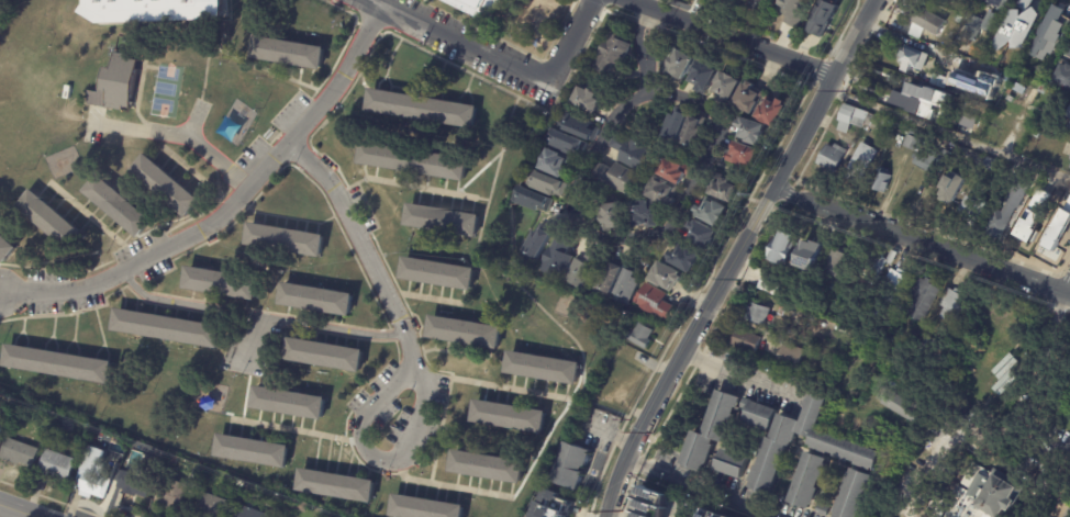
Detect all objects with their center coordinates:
building: (735, 0)
building: (947, 2)
building: (1000, 3)
park: (412, 4)
building: (757, 5)
building: (1032, 7)
building: (478, 8)
building: (148, 10)
building: (795, 10)
building: (825, 18)
building: (932, 20)
building: (981, 26)
building: (1048, 33)
road: (729, 36)
road: (455, 41)
road: (569, 41)
building: (1052, 48)
building: (290, 52)
building: (613, 53)
building: (915, 58)
building: (947, 61)
building: (970, 61)
building: (681, 64)
road: (276, 74)
building: (1061, 75)
building: (703, 76)
building: (941, 80)
building: (118, 83)
building: (727, 87)
building: (1022, 89)
building: (1045, 89)
power tower: (846, 90)
park: (167, 91)
building: (962, 95)
road: (673, 97)
building: (750, 97)
building: (1033, 97)
building: (590, 98)
building: (928, 103)
building: (1014, 104)
building: (424, 108)
building: (1003, 110)
building: (772, 111)
building: (982, 111)
building: (857, 119)
building: (967, 120)
road: (191, 124)
building: (1068, 124)
building: (581, 126)
building: (676, 126)
building: (904, 128)
building: (750, 132)
road: (177, 134)
road: (947, 134)
building: (1036, 134)
building: (694, 136)
building: (567, 143)
building: (914, 143)
building: (852, 145)
building: (633, 151)
building: (744, 155)
building: (836, 156)
building: (867, 157)
building: (415, 161)
building: (930, 162)
building: (559, 164)
building: (1069, 165)
building: (677, 170)
road: (197, 175)
building: (617, 177)
building: (882, 181)
building: (958, 181)
building: (548, 184)
building: (167, 186)
road: (409, 187)
building: (726, 190)
building: (664, 191)
building: (1019, 192)
building: (534, 200)
building: (1052, 204)
road: (226, 205)
building: (120, 206)
building: (967, 210)
building: (713, 212)
building: (646, 214)
building: (1033, 214)
building: (776, 216)
building: (614, 217)
building: (439, 218)
road: (570, 220)
building: (51, 221)
road: (94, 222)
building: (1000, 225)
building: (1059, 226)
building: (1039, 231)
building: (703, 235)
building: (287, 240)
road: (919, 240)
building: (538, 244)
road: (359, 246)
building: (782, 248)
building: (5, 249)
building: (810, 252)
road: (735, 256)
building: (558, 257)
building: (687, 258)
building: (837, 263)
building: (880, 263)
building: (586, 269)
building: (441, 274)
building: (667, 276)
building: (611, 280)
power tower: (740, 280)
building: (771, 282)
building: (223, 283)
building: (628, 285)
road: (1067, 285)
building: (896, 286)
road: (421, 297)
building: (925, 297)
building: (319, 300)
building: (656, 302)
building: (806, 304)
building: (954, 304)
road: (70, 312)
building: (759, 313)
road: (254, 314)
building: (1010, 325)
building: (169, 329)
building: (467, 333)
building: (794, 333)
building: (643, 336)
building: (747, 338)
road: (245, 340)
building: (934, 347)
building: (789, 353)
building: (326, 356)
building: (59, 364)
building: (545, 368)
road: (738, 373)
building: (1005, 373)
building: (905, 378)
road: (582, 379)
building: (290, 404)
building: (901, 405)
road: (605, 407)
building: (0, 411)
building: (511, 417)
building: (68, 425)
building: (713, 429)
power tower: (653, 434)
building: (103, 436)
road: (335, 437)
building: (837, 441)
road: (363, 450)
building: (254, 452)
building: (19, 453)
building: (174, 460)
building: (733, 462)
building: (575, 465)
building: (57, 467)
building: (489, 468)
road: (913, 472)
building: (810, 481)
building: (135, 483)
building: (983, 484)
building: (93, 486)
building: (337, 486)
road: (703, 488)
building: (856, 493)
building: (171, 495)
building: (1004, 495)
building: (651, 503)
building: (212, 506)
building: (300, 506)
building: (425, 508)
road: (19, 509)
building: (824, 509)
building: (559, 510)
power tower: (620, 512)
building: (249, 513)
building: (701, 514)

